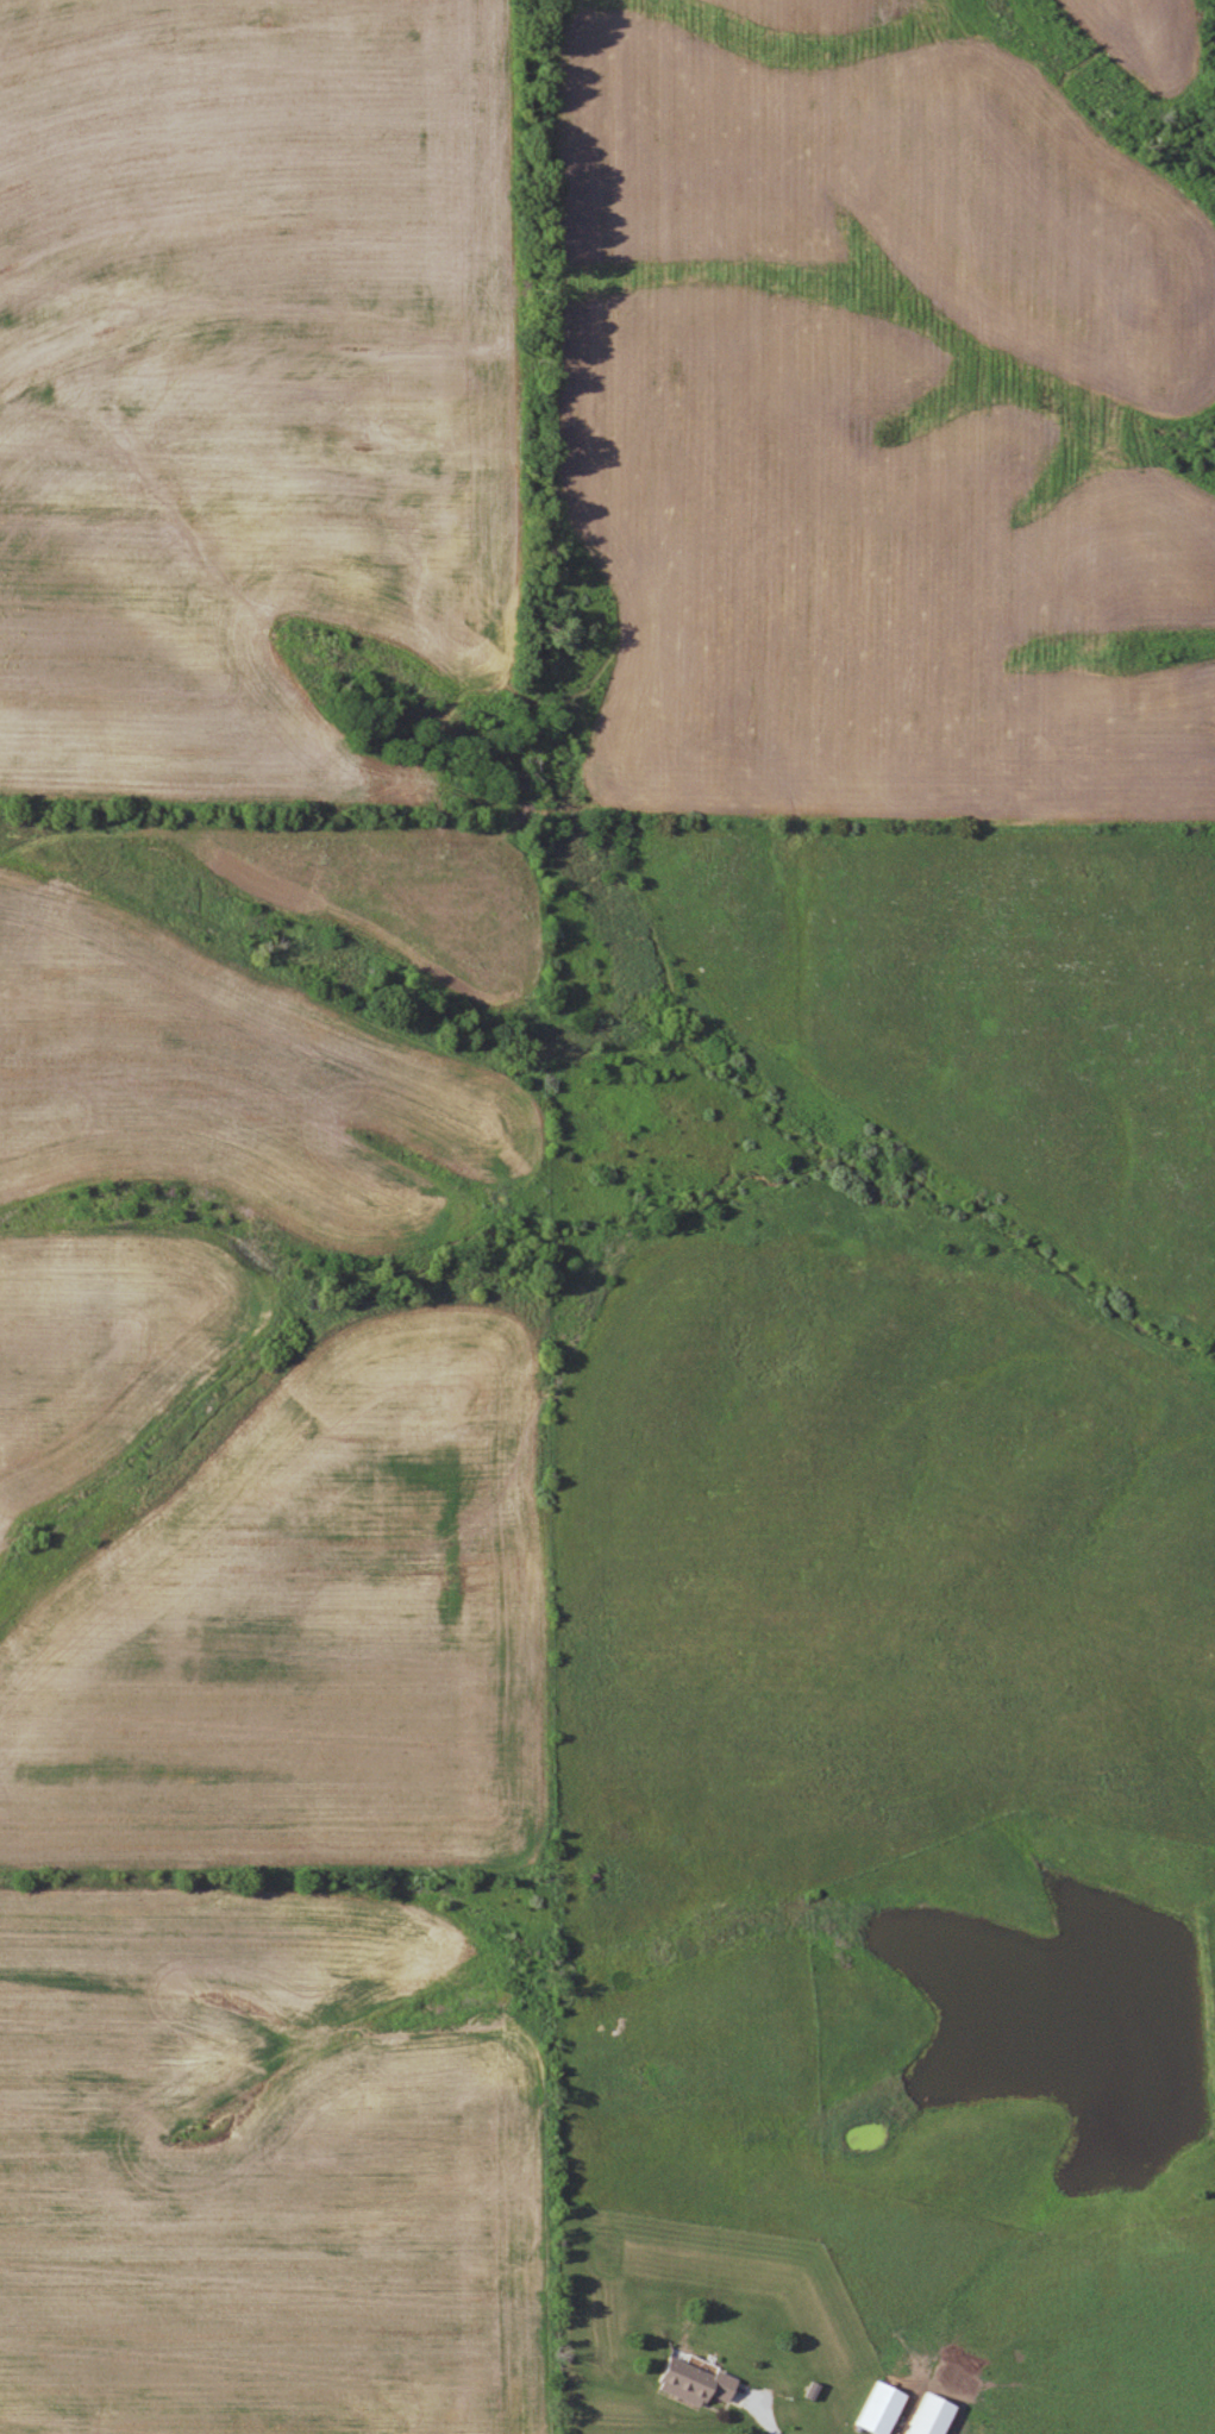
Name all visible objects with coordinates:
building: (693, 2382)
building: (881, 2409)
building: (932, 2416)
road: (766, 2427)

